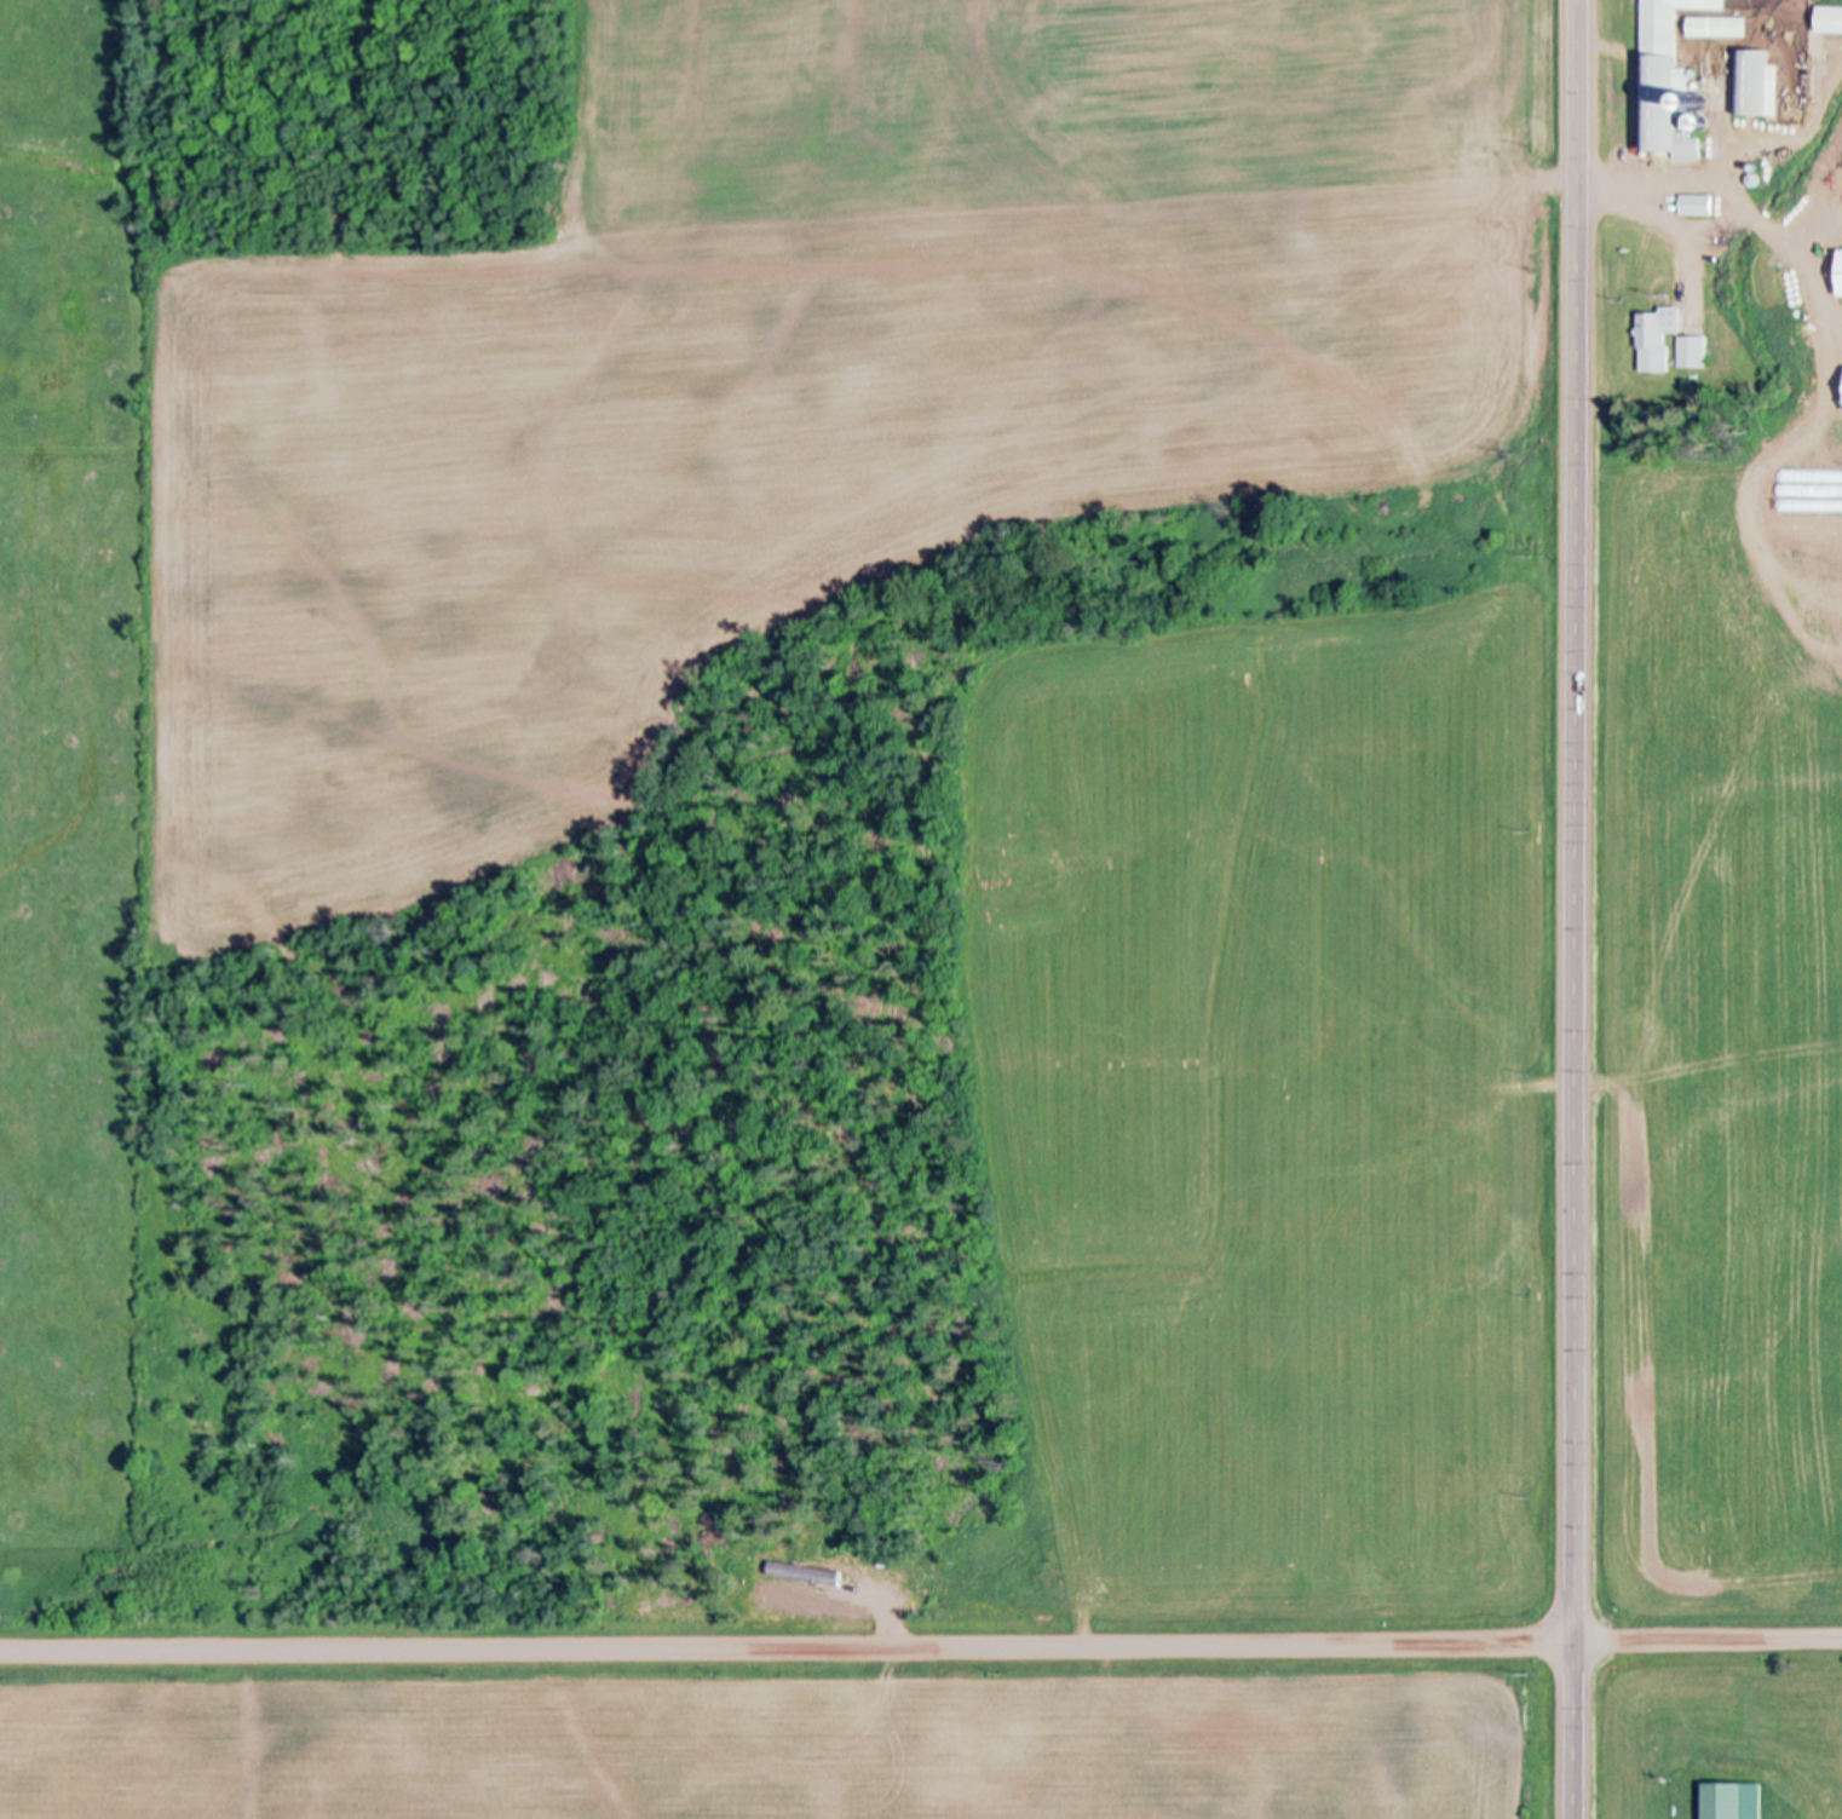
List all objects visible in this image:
building: (1830, 18)
building: (1719, 23)
building: (1665, 76)
building: (1754, 80)
building: (1697, 203)
building: (1841, 272)
building: (1656, 336)
building: (1693, 350)
road: (1578, 909)
road: (1709, 1642)
road: (788, 1648)
building: (1735, 1801)

